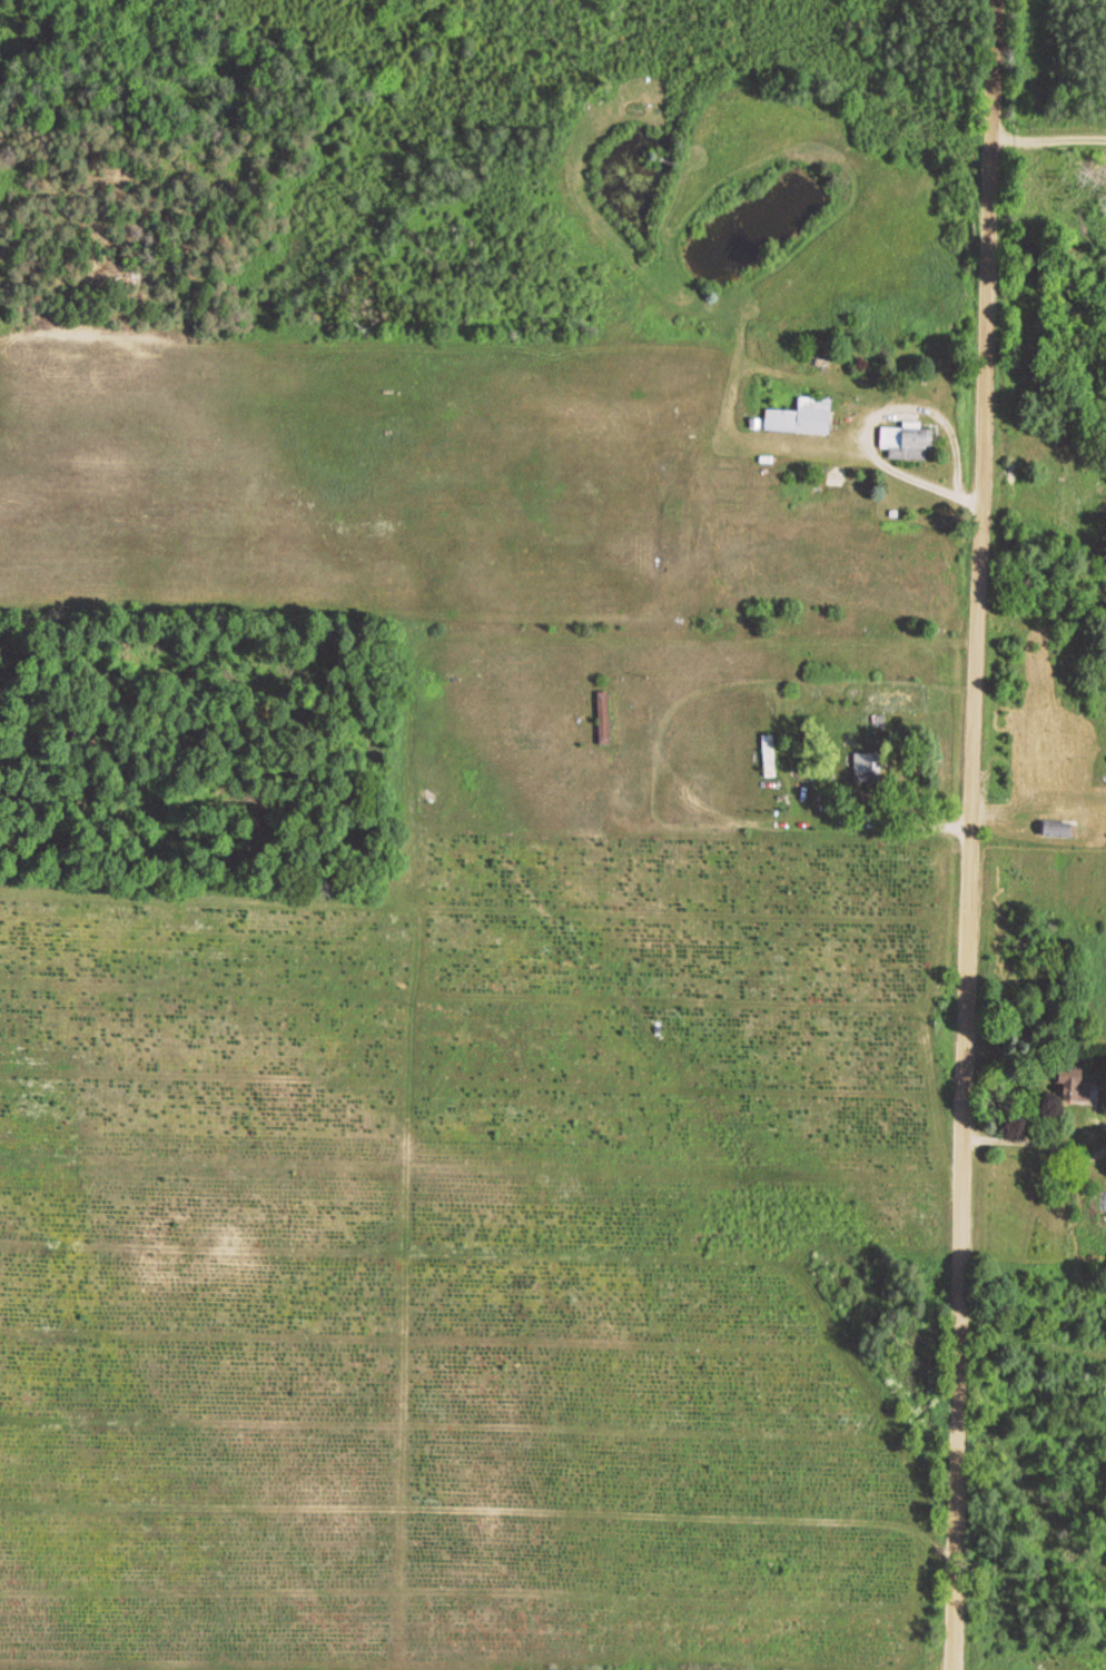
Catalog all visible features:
road: (1048, 149)
building: (804, 417)
building: (909, 443)
building: (605, 718)
building: (770, 757)
road: (976, 763)
building: (867, 768)
building: (1059, 829)
building: (1078, 1088)
road: (956, 1598)

